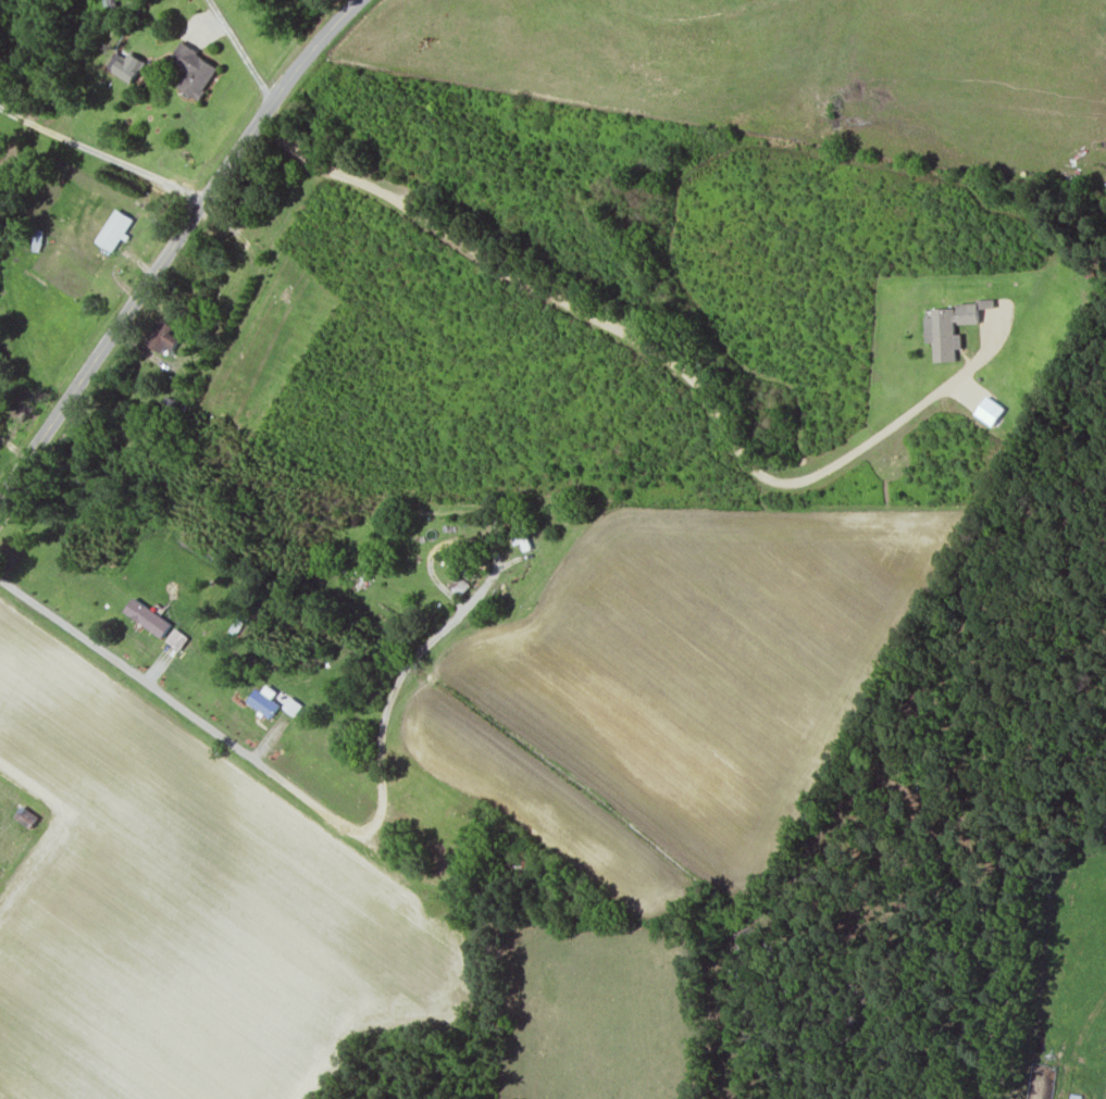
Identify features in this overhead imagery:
building: (128, 64)
building: (194, 67)
road: (100, 157)
building: (114, 228)
road: (173, 243)
building: (971, 309)
building: (943, 332)
building: (162, 335)
road: (658, 352)
building: (145, 615)
building: (175, 637)
road: (166, 653)
building: (264, 698)
building: (290, 704)
road: (250, 758)

